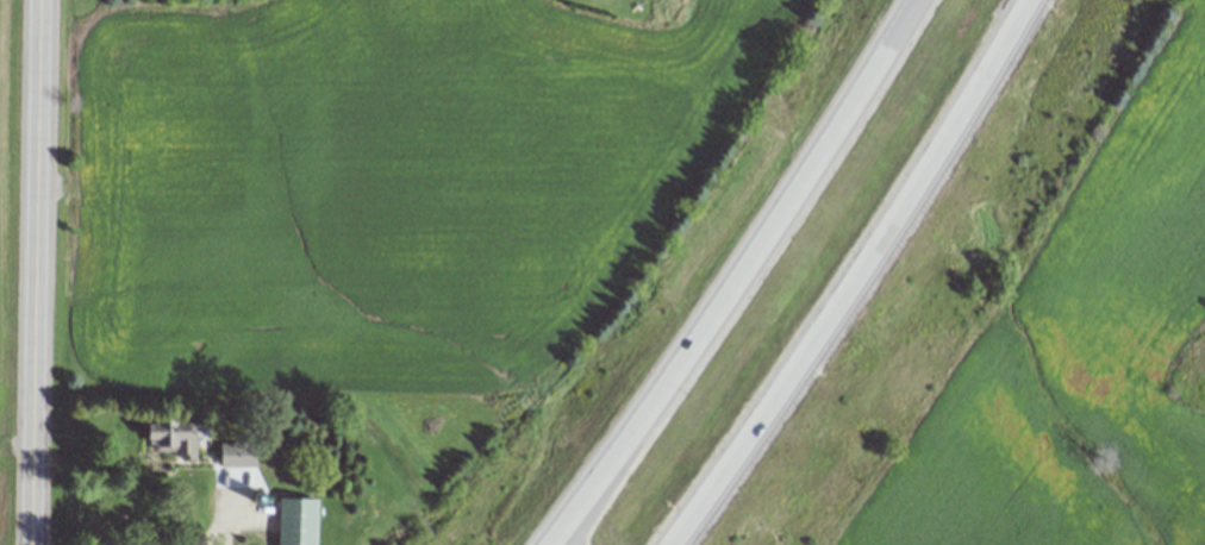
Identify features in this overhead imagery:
crop: (10, 218)
road: (37, 272)
road: (735, 276)
road: (856, 283)
building: (176, 439)
building: (239, 455)
building: (299, 521)
road: (216, 522)

